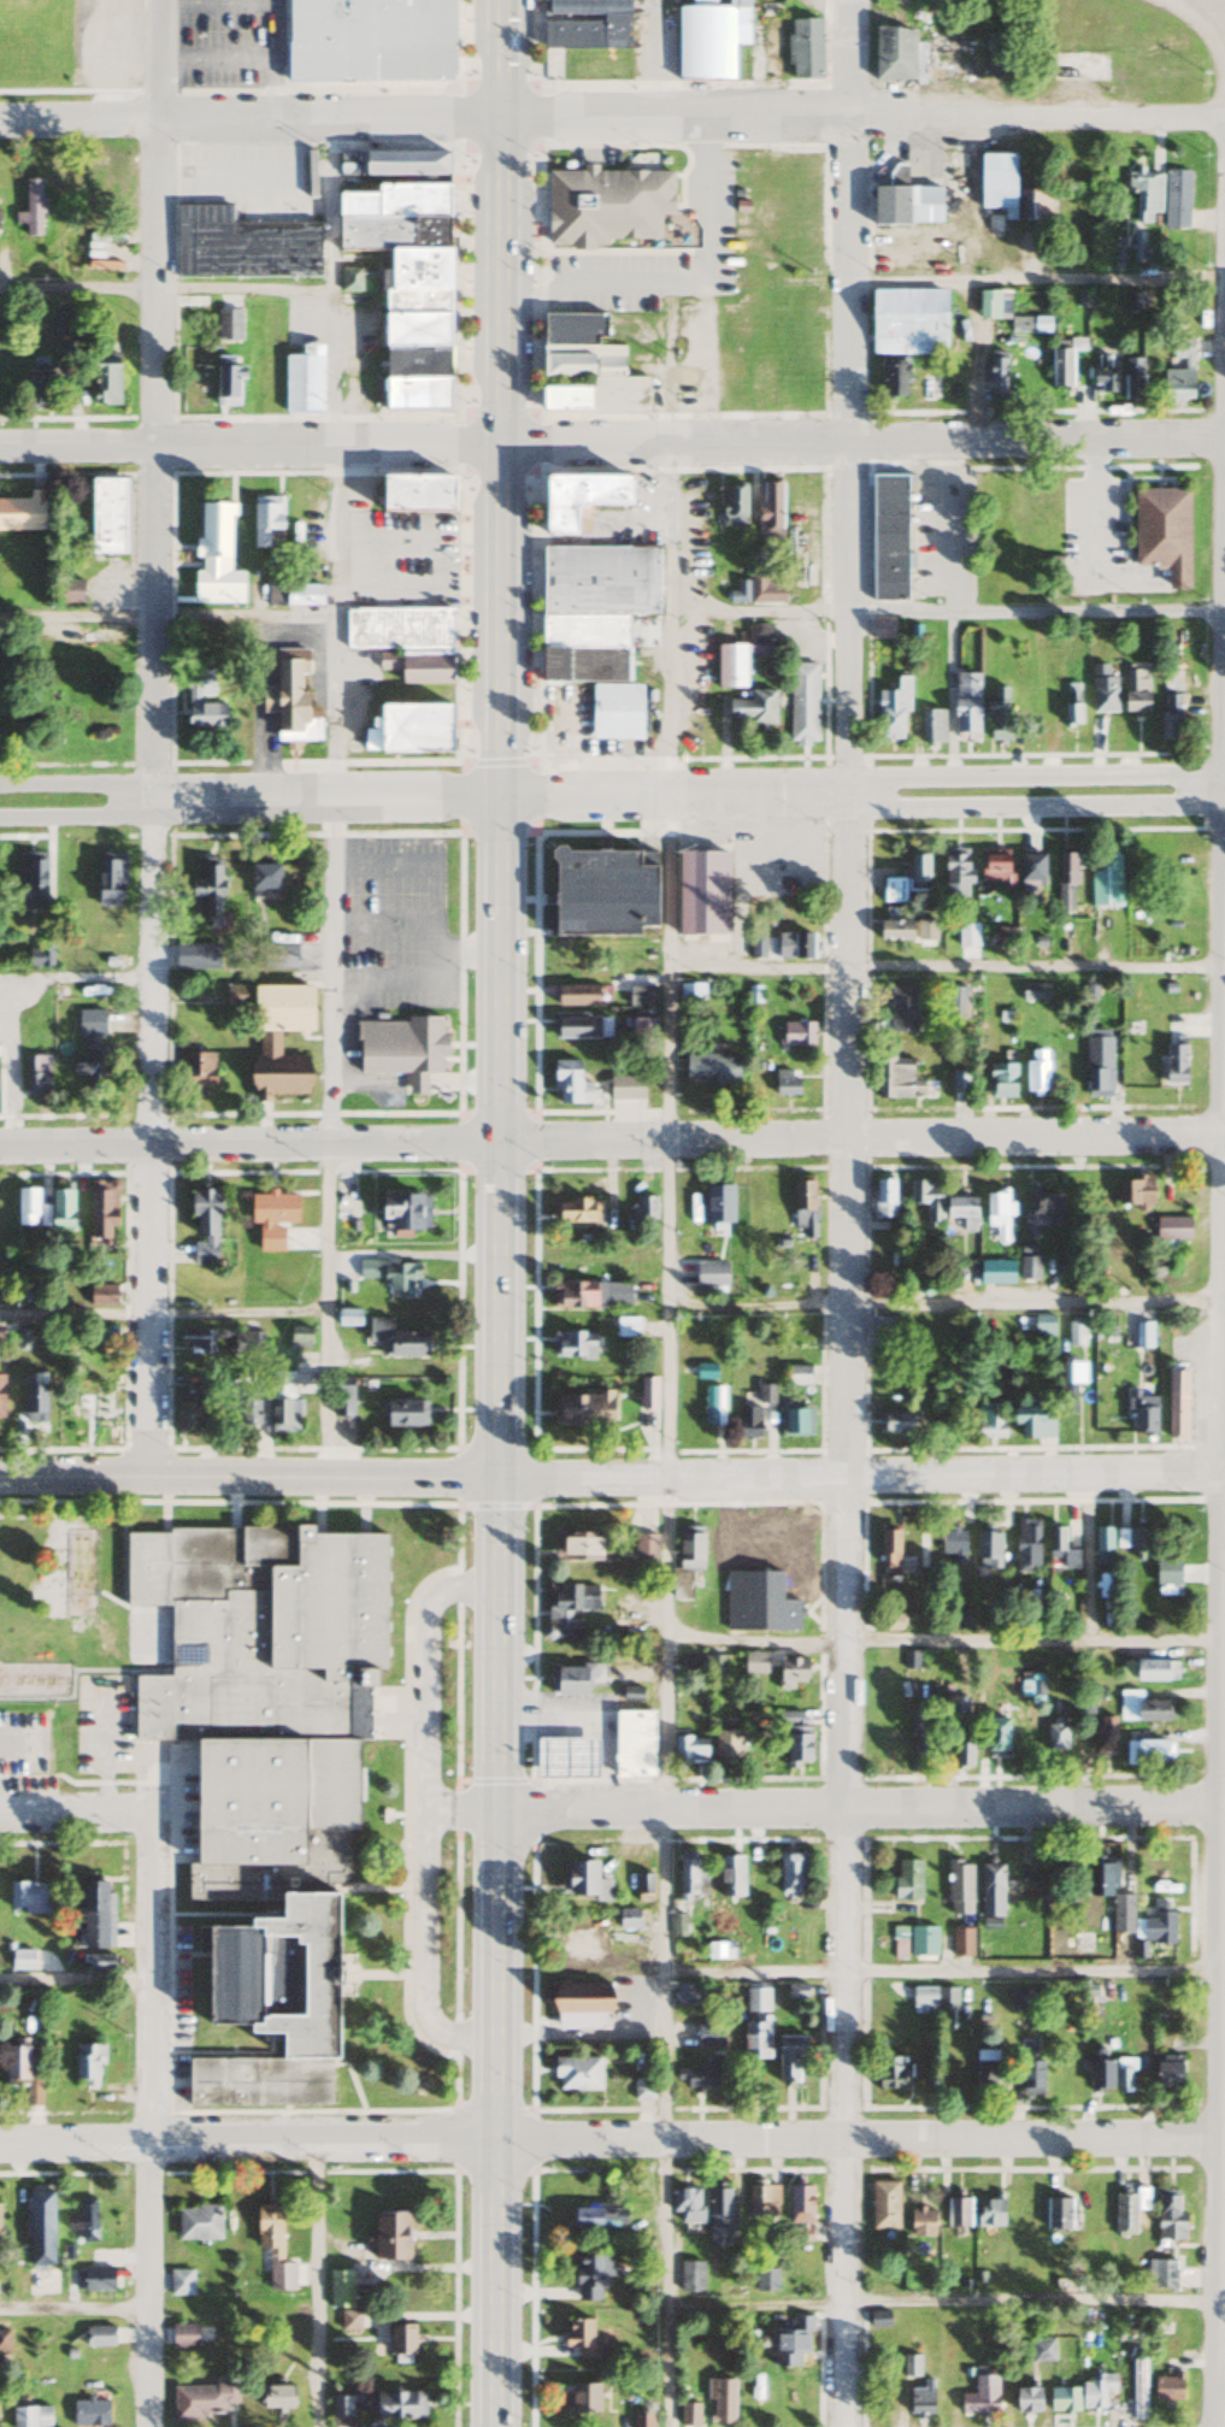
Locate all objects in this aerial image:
building: (909, 1)
road: (1179, 7)
road: (1212, 16)
building: (587, 24)
building: (367, 40)
building: (705, 41)
road: (1217, 45)
building: (805, 49)
building: (106, 52)
building: (919, 57)
building: (70, 61)
road: (860, 118)
road: (247, 119)
building: (997, 184)
building: (1144, 194)
building: (1177, 199)
building: (905, 202)
building: (1032, 204)
building: (606, 206)
building: (33, 207)
building: (391, 231)
building: (241, 243)
building: (1139, 249)
building: (351, 281)
road: (868, 281)
road: (164, 287)
building: (1089, 298)
building: (1132, 300)
building: (988, 304)
building: (907, 322)
building: (228, 324)
building: (1029, 324)
building: (803, 364)
building: (585, 372)
building: (1179, 372)
building: (996, 375)
building: (1105, 375)
building: (105, 378)
building: (1132, 378)
building: (304, 379)
building: (895, 379)
building: (226, 381)
building: (35, 389)
building: (414, 394)
road: (860, 440)
road: (247, 443)
building: (414, 494)
building: (578, 499)
building: (732, 507)
building: (768, 511)
building: (22, 513)
building: (106, 517)
building: (265, 518)
building: (1162, 530)
building: (888, 537)
building: (214, 558)
building: (1084, 584)
building: (765, 590)
building: (69, 591)
building: (284, 595)
road: (944, 609)
road: (165, 617)
building: (596, 628)
building: (882, 630)
building: (405, 642)
building: (730, 666)
building: (1102, 690)
building: (1135, 691)
building: (289, 700)
building: (193, 701)
building: (802, 705)
building: (752, 709)
building: (965, 709)
building: (893, 711)
building: (997, 715)
building: (1071, 715)
building: (1170, 718)
building: (931, 727)
building: (407, 730)
road: (153, 738)
road: (1033, 777)
road: (77, 784)
road: (672, 794)
road: (325, 795)
road: (329, 799)
road: (1033, 807)
road: (77, 817)
building: (994, 866)
building: (1031, 872)
building: (918, 873)
building: (955, 874)
building: (1105, 878)
building: (31, 879)
building: (108, 879)
building: (263, 879)
building: (1065, 882)
building: (893, 890)
building: (601, 893)
building: (207, 894)
building: (701, 894)
building: (925, 930)
building: (894, 931)
building: (967, 935)
building: (794, 946)
building: (758, 947)
building: (196, 955)
building: (278, 956)
road: (947, 966)
road: (75, 978)
building: (1035, 992)
building: (235, 995)
building: (576, 995)
building: (690, 995)
building: (641, 996)
building: (955, 1002)
building: (279, 1009)
building: (902, 1009)
building: (579, 1026)
building: (642, 1026)
building: (797, 1035)
building: (90, 1049)
building: (401, 1049)
building: (1097, 1062)
building: (1174, 1065)
building: (711, 1068)
building: (198, 1071)
building: (277, 1071)
building: (1036, 1072)
building: (37, 1076)
building: (896, 1078)
building: (1001, 1082)
building: (785, 1083)
building: (960, 1083)
building: (569, 1084)
building: (625, 1088)
road: (861, 1137)
road: (248, 1142)
building: (1135, 1192)
building: (883, 1201)
building: (927, 1202)
building: (24, 1208)
building: (644, 1208)
building: (803, 1208)
building: (718, 1209)
building: (59, 1210)
building: (576, 1212)
building: (1042, 1212)
road: (497, 1213)
road: (846, 1213)
building: (961, 1213)
building: (100, 1215)
building: (400, 1215)
building: (272, 1219)
building: (996, 1219)
building: (204, 1229)
building: (1172, 1229)
building: (1027, 1268)
building: (996, 1273)
building: (711, 1276)
building: (393, 1278)
building: (953, 1282)
building: (101, 1296)
building: (590, 1296)
road: (941, 1303)
road: (160, 1314)
building: (347, 1319)
building: (1043, 1326)
road: (1215, 1326)
building: (625, 1329)
building: (884, 1331)
building: (105, 1335)
building: (1074, 1335)
building: (1142, 1337)
building: (0, 1339)
building: (299, 1341)
building: (395, 1341)
building: (220, 1343)
building: (572, 1347)
building: (705, 1373)
building: (797, 1377)
building: (1071, 1384)
building: (647, 1395)
building: (765, 1395)
building: (1, 1397)
building: (84, 1397)
building: (341, 1398)
building: (283, 1403)
building: (33, 1404)
building: (1177, 1404)
building: (713, 1407)
building: (248, 1408)
building: (582, 1410)
building: (189, 1412)
building: (401, 1414)
building: (1142, 1415)
building: (989, 1421)
building: (749, 1422)
building: (796, 1422)
building: (894, 1424)
building: (1032, 1424)
road: (666, 1433)
road: (861, 1475)
road: (249, 1478)
building: (1131, 1541)
building: (953, 1543)
building: (1026, 1545)
building: (581, 1547)
building: (1102, 1547)
building: (644, 1548)
building: (1060, 1549)
building: (987, 1550)
building: (889, 1551)
road: (1084, 1557)
building: (688, 1560)
building: (770, 1578)
building: (1106, 1591)
building: (566, 1609)
building: (888, 1622)
road: (940, 1642)
building: (755, 1663)
building: (713, 1666)
building: (1149, 1671)
building: (790, 1672)
building: (570, 1678)
building: (631, 1692)
building: (959, 1706)
building: (1142, 1707)
building: (917, 1730)
building: (1056, 1733)
building: (1105, 1733)
building: (996, 1736)
building: (794, 1737)
road: (22, 1743)
building: (631, 1743)
building: (728, 1745)
building: (688, 1749)
building: (1147, 1750)
building: (962, 1752)
building: (566, 1754)
building: (265, 1771)
road: (855, 1808)
road: (425, 1812)
road: (461, 1812)
road: (73, 1816)
building: (790, 1872)
building: (690, 1874)
building: (729, 1874)
building: (1099, 1874)
building: (583, 1879)
building: (907, 1879)
building: (646, 1883)
building: (959, 1886)
building: (991, 1889)
building: (26, 1896)
building: (1123, 1911)
building: (628, 1918)
building: (678, 1920)
building: (1156, 1924)
building: (923, 1940)
building: (575, 1942)
building: (961, 1942)
building: (714, 1950)
building: (22, 1958)
building: (99, 1961)
road: (938, 1971)
road: (66, 1972)
building: (796, 1991)
building: (579, 1996)
building: (1020, 1997)
building: (935, 1998)
building: (755, 2022)
building: (687, 2043)
building: (789, 2057)
building: (87, 2062)
building: (1029, 2064)
building: (985, 2068)
building: (1100, 2068)
building: (1168, 2069)
building: (22, 2070)
building: (891, 2070)
building: (577, 2072)
building: (1124, 2073)
building: (701, 2074)
building: (642, 2091)
road: (147, 2122)
road: (854, 2138)
road: (247, 2142)
building: (762, 2198)
building: (687, 2203)
building: (884, 2203)
building: (1129, 2208)
building: (989, 2209)
building: (958, 2210)
building: (1058, 2211)
building: (800, 2213)
building: (599, 2215)
building: (719, 2215)
building: (1170, 2215)
building: (83, 2220)
building: (198, 2221)
building: (920, 2221)
building: (390, 2233)
building: (40, 2240)
building: (272, 2248)
building: (1161, 2272)
building: (591, 2273)
building: (690, 2275)
building: (98, 2278)
building: (765, 2279)
building: (179, 2280)
road: (318, 2284)
building: (340, 2287)
road: (938, 2301)
road: (73, 2308)
building: (879, 2317)
building: (99, 2334)
building: (183, 2334)
building: (581, 2335)
building: (400, 2337)
building: (4, 2340)
building: (791, 2341)
building: (1041, 2349)
building: (911, 2364)
building: (1167, 2387)
building: (1138, 2388)
building: (1096, 2390)
building: (277, 2396)
building: (581, 2396)
building: (980, 2396)
building: (920, 2398)
building: (1026, 2398)
building: (1064, 2398)
building: (202, 2399)
building: (720, 2401)
building: (377, 2405)
building: (89, 2411)
building: (689, 2414)
building: (30, 2415)
building: (641, 2420)

